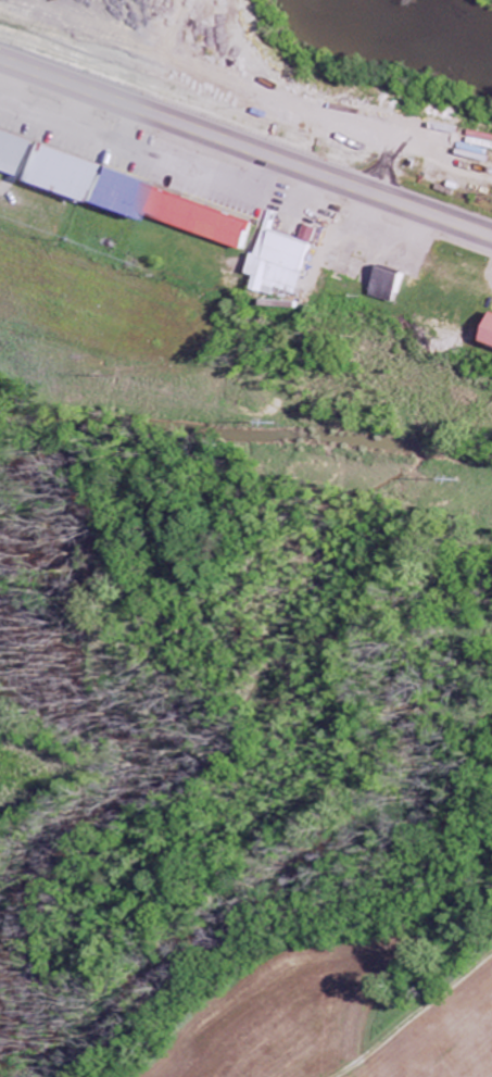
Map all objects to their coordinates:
road: (245, 145)
building: (9, 151)
building: (58, 172)
building: (168, 205)
building: (318, 235)
building: (295, 251)
building: (400, 281)

